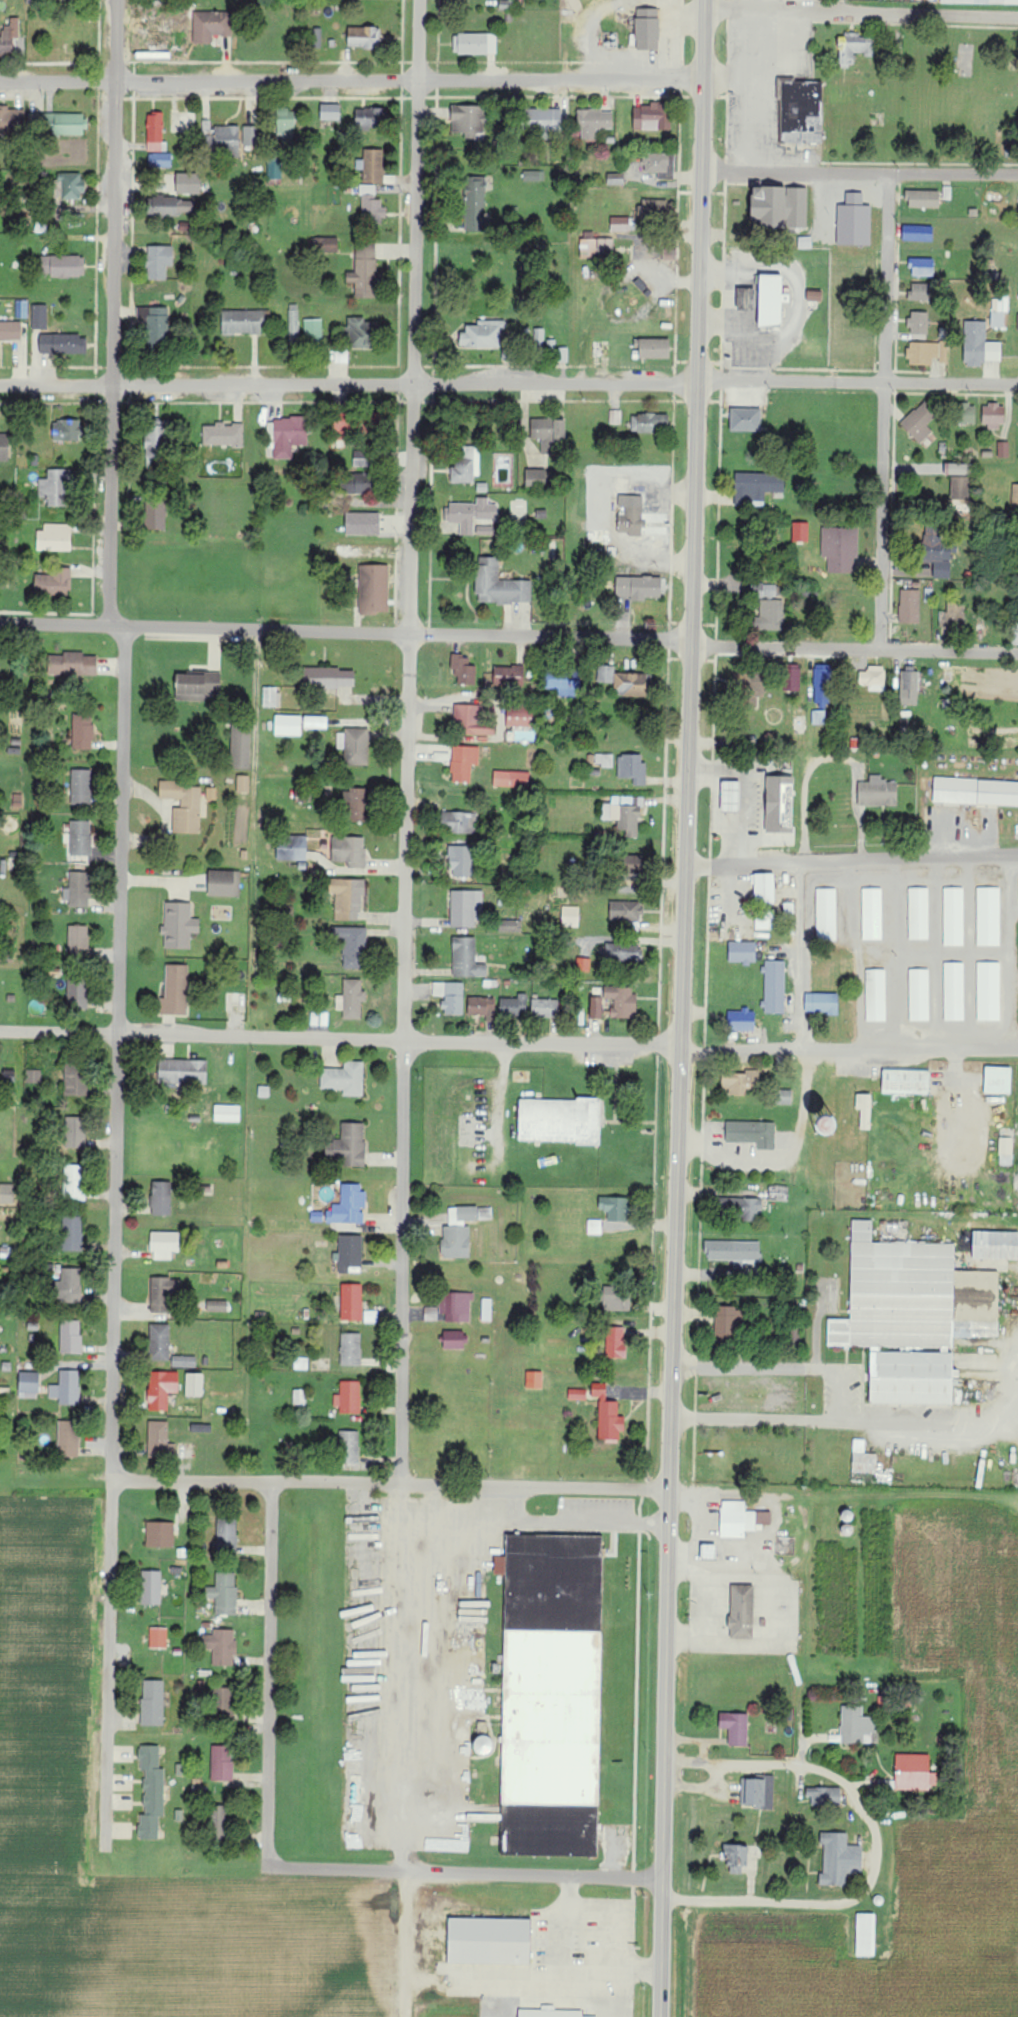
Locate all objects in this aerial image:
building: (980, 2)
road: (861, 14)
building: (211, 26)
building: (648, 30)
building: (9, 36)
building: (363, 38)
building: (475, 44)
building: (855, 47)
road: (351, 80)
building: (801, 111)
building: (330, 112)
building: (372, 117)
building: (650, 118)
building: (467, 119)
building: (544, 120)
building: (12, 122)
building: (594, 123)
building: (58, 124)
building: (286, 126)
building: (155, 132)
building: (250, 136)
building: (227, 139)
building: (160, 160)
building: (659, 165)
building: (373, 166)
building: (274, 170)
road: (859, 171)
building: (533, 176)
building: (616, 179)
building: (189, 183)
building: (69, 186)
building: (923, 199)
building: (371, 204)
building: (475, 205)
building: (174, 207)
building: (781, 207)
building: (653, 210)
building: (822, 213)
building: (620, 224)
building: (918, 233)
building: (325, 245)
building: (596, 246)
building: (159, 262)
building: (63, 266)
building: (922, 268)
building: (365, 271)
building: (921, 293)
building: (749, 300)
building: (771, 301)
building: (999, 311)
road: (113, 312)
building: (39, 317)
building: (243, 322)
building: (919, 323)
building: (156, 324)
building: (294, 324)
building: (1017, 324)
building: (313, 329)
building: (10, 331)
building: (363, 333)
building: (483, 335)
building: (539, 336)
building: (63, 344)
building: (979, 345)
building: (655, 349)
building: (925, 353)
road: (508, 382)
road: (884, 410)
building: (967, 415)
building: (993, 415)
building: (615, 417)
building: (746, 420)
building: (920, 421)
building: (648, 424)
building: (344, 430)
building: (67, 431)
building: (549, 434)
building: (224, 435)
building: (289, 436)
building: (157, 441)
building: (4, 448)
building: (1003, 449)
building: (464, 465)
building: (957, 468)
building: (360, 475)
building: (536, 477)
building: (757, 486)
building: (960, 487)
building: (56, 488)
building: (1014, 497)
building: (471, 514)
building: (155, 516)
building: (631, 520)
building: (363, 523)
building: (801, 531)
building: (55, 537)
building: (840, 548)
building: (937, 552)
building: (54, 582)
building: (499, 584)
building: (640, 587)
building: (374, 588)
building: (910, 606)
building: (768, 607)
building: (953, 616)
road: (509, 634)
building: (73, 664)
building: (464, 669)
building: (606, 674)
building: (510, 675)
building: (329, 678)
building: (795, 678)
building: (874, 678)
building: (748, 681)
building: (198, 683)
building: (563, 683)
building: (631, 684)
building: (822, 684)
building: (909, 685)
building: (269, 696)
building: (520, 716)
building: (820, 717)
building: (471, 721)
building: (316, 722)
building: (288, 725)
building: (82, 732)
road: (257, 742)
building: (241, 746)
building: (354, 746)
building: (604, 760)
building: (464, 762)
building: (632, 767)
building: (511, 779)
building: (243, 783)
building: (81, 787)
building: (976, 791)
building: (211, 793)
building: (878, 794)
building: (730, 795)
building: (780, 803)
building: (184, 805)
building: (357, 806)
building: (624, 813)
building: (458, 822)
building: (80, 838)
building: (350, 851)
building: (286, 853)
road: (852, 858)
building: (461, 859)
building: (224, 883)
building: (76, 886)
building: (764, 888)
building: (347, 898)
building: (466, 908)
building: (626, 911)
building: (919, 913)
building: (826, 914)
building: (872, 914)
building: (571, 916)
building: (954, 916)
building: (988, 916)
building: (765, 924)
building: (179, 925)
road: (406, 935)
building: (78, 941)
building: (352, 945)
building: (624, 952)
building: (742, 952)
building: (466, 958)
building: (583, 965)
road: (805, 985)
building: (774, 986)
building: (175, 990)
building: (954, 991)
building: (988, 991)
building: (77, 993)
building: (876, 995)
building: (919, 995)
building: (451, 996)
building: (351, 999)
building: (622, 1001)
building: (822, 1003)
building: (514, 1006)
building: (481, 1007)
building: (546, 1007)
building: (597, 1007)
road: (682, 1008)
building: (741, 1020)
road: (509, 1042)
building: (183, 1071)
building: (34, 1076)
building: (345, 1078)
building: (998, 1079)
building: (906, 1081)
building: (75, 1082)
building: (740, 1082)
building: (865, 1110)
building: (227, 1113)
building: (560, 1120)
building: (75, 1132)
building: (752, 1133)
building: (350, 1145)
building: (1006, 1146)
building: (74, 1182)
building: (6, 1193)
building: (778, 1193)
building: (161, 1198)
building: (349, 1205)
building: (615, 1208)
building: (744, 1208)
building: (594, 1227)
building: (461, 1230)
building: (72, 1233)
road: (115, 1236)
building: (165, 1245)
building: (995, 1245)
building: (734, 1252)
building: (349, 1253)
building: (68, 1286)
building: (161, 1293)
building: (615, 1300)
building: (351, 1302)
building: (217, 1306)
building: (456, 1307)
building: (486, 1309)
building: (431, 1314)
building: (903, 1318)
building: (728, 1322)
building: (70, 1337)
building: (454, 1340)
building: (160, 1342)
building: (616, 1343)
building: (351, 1349)
building: (184, 1361)
road: (786, 1369)
building: (534, 1379)
building: (194, 1384)
building: (29, 1385)
building: (66, 1388)
building: (162, 1389)
building: (577, 1394)
building: (299, 1397)
building: (349, 1397)
building: (608, 1416)
road: (758, 1419)
road: (938, 1421)
building: (68, 1439)
building: (160, 1440)
building: (350, 1447)
building: (864, 1459)
road: (391, 1481)
building: (740, 1520)
building: (227, 1533)
building: (160, 1534)
road: (701, 1569)
building: (151, 1588)
building: (224, 1594)
building: (742, 1612)
building: (158, 1638)
building: (221, 1647)
building: (551, 1694)
building: (153, 1703)
building: (224, 1704)
building: (854, 1725)
building: (735, 1728)
road: (269, 1741)
building: (485, 1746)
building: (222, 1762)
road: (750, 1763)
building: (914, 1772)
building: (151, 1792)
building: (760, 1792)
building: (824, 1797)
building: (450, 1844)
building: (736, 1857)
building: (839, 1860)
road: (534, 1873)
road: (835, 1901)
road: (569, 1932)
building: (866, 1935)
building: (492, 1938)
road: (406, 1943)
road: (608, 1968)
building: (553, 2012)

